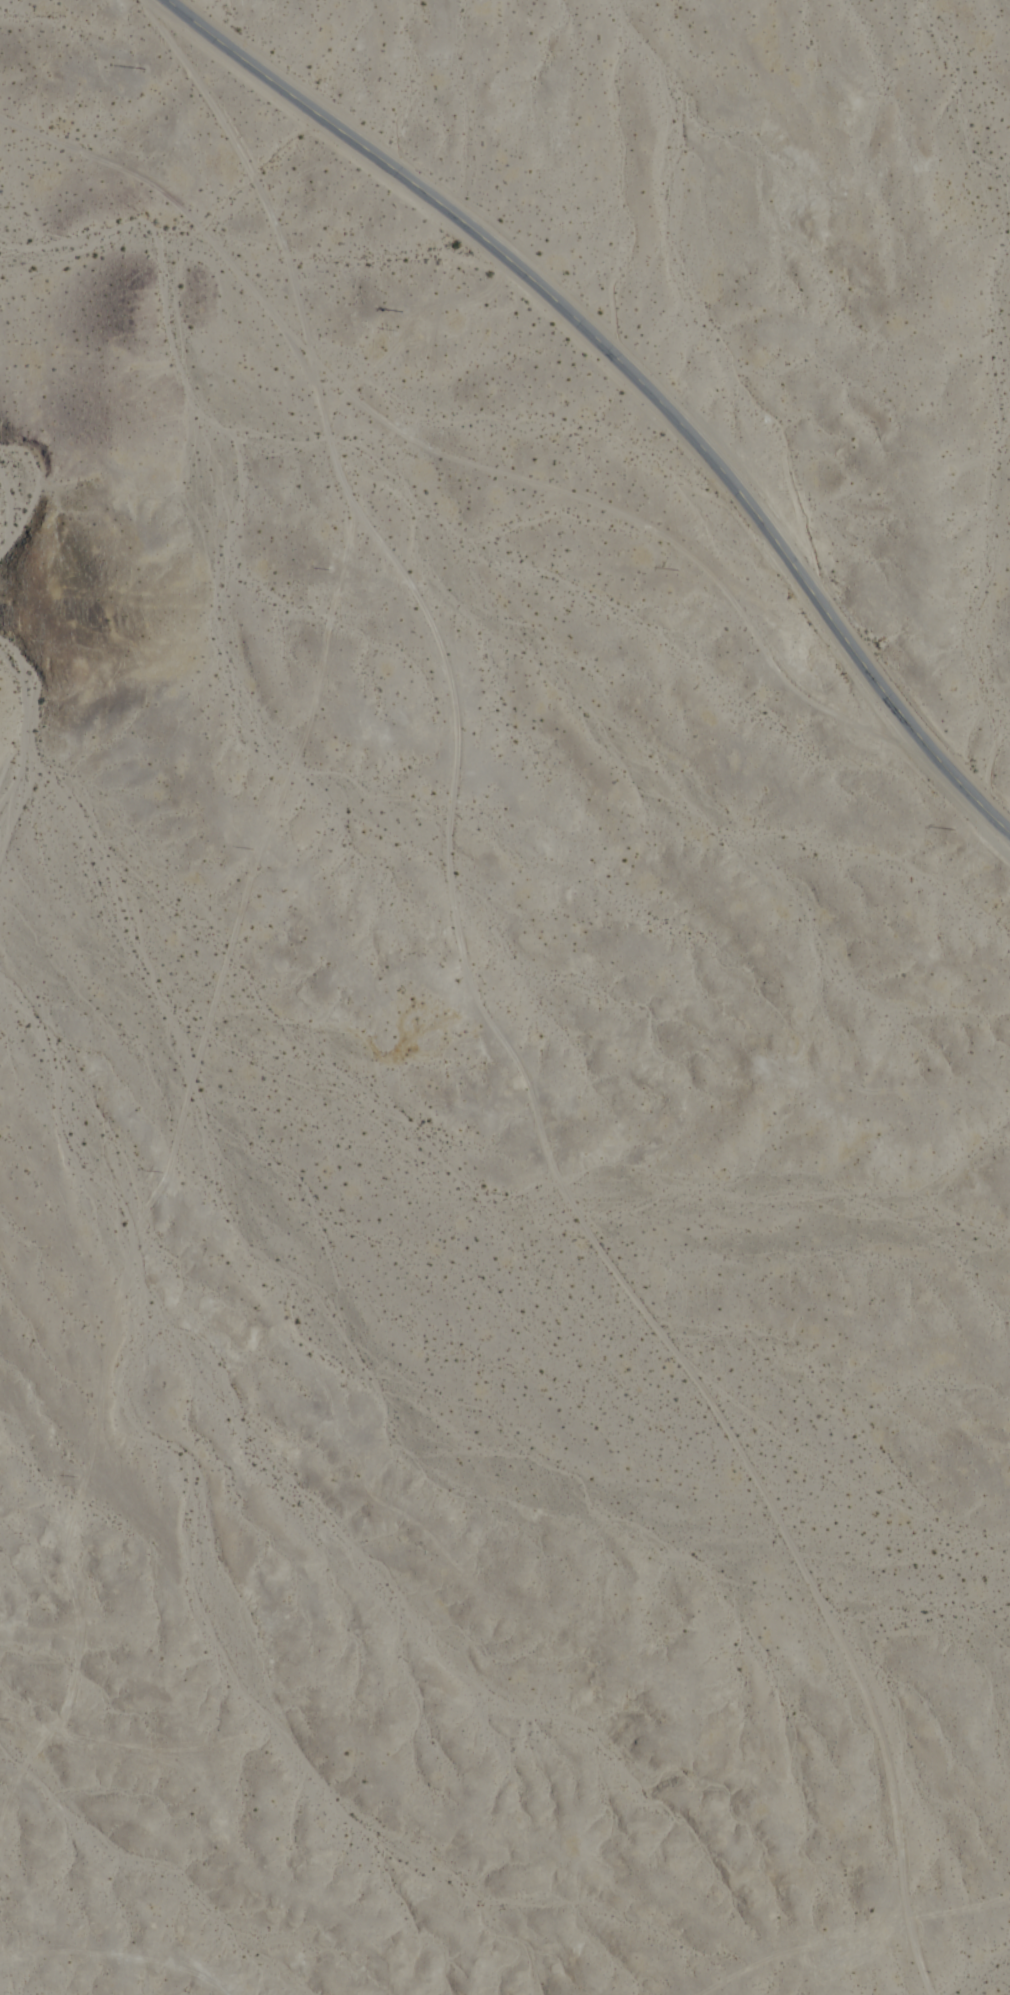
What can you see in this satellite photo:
road: (633, 373)
road: (521, 1067)

